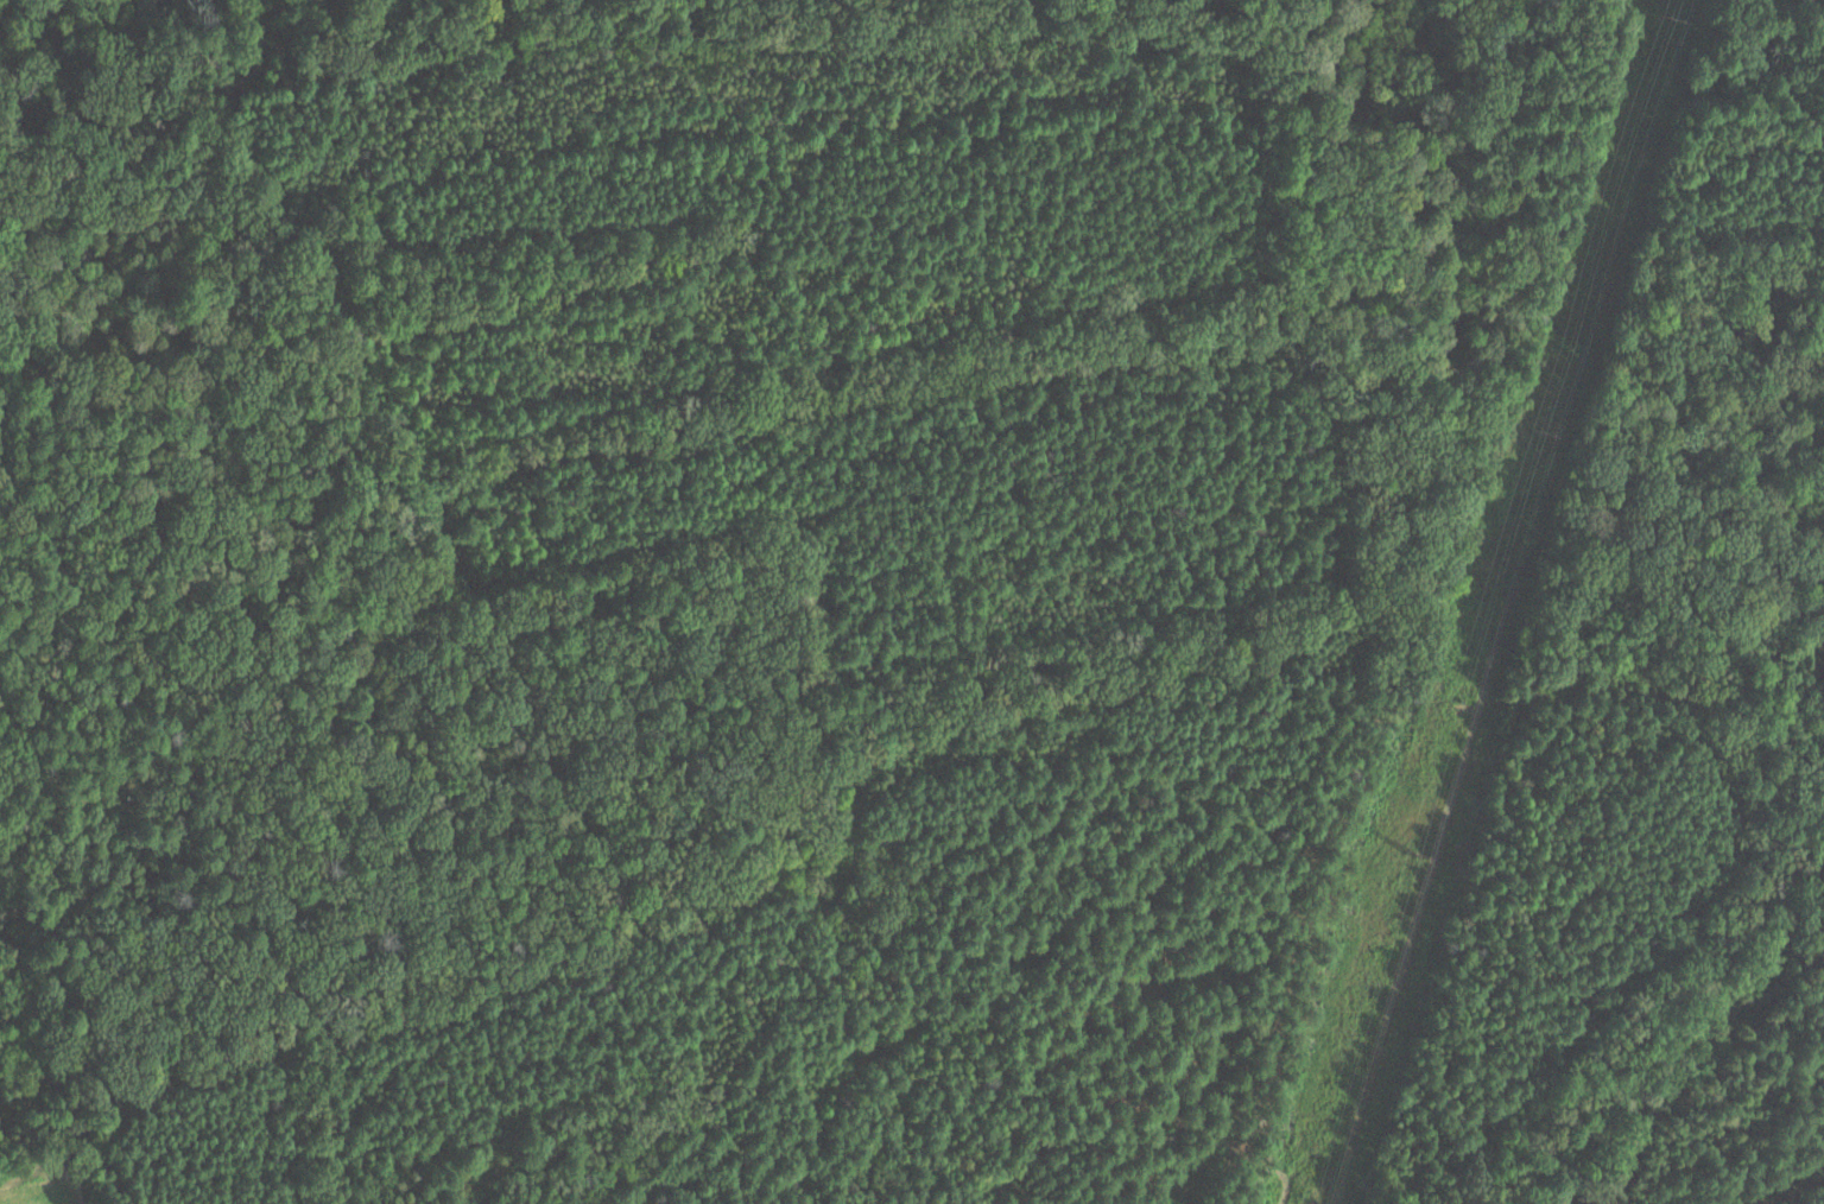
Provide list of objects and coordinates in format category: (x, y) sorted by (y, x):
power tower: (1664, 19)
power tower: (1539, 435)
power tower: (1413, 854)

